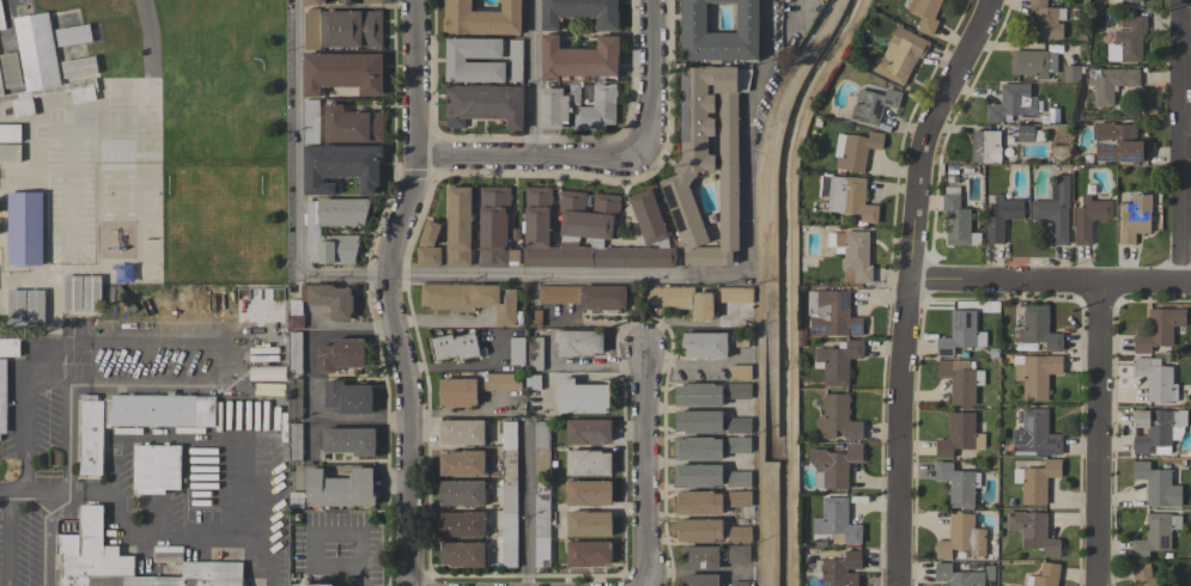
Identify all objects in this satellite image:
building: (1123, 0)
building: (372, 1)
building: (314, 2)
building: (579, 12)
building: (139, 13)
building: (925, 14)
building: (108, 18)
building: (482, 18)
building: (693, 18)
building: (1045, 20)
road: (768, 23)
building: (311, 29)
building: (352, 29)
building: (73, 35)
building: (1128, 42)
building: (898, 55)
building: (579, 57)
building: (455, 60)
building: (515, 60)
building: (1033, 62)
building: (41, 67)
building: (79, 67)
building: (11, 69)
building: (342, 72)
building: (1072, 73)
road: (655, 78)
road: (530, 79)
building: (1112, 84)
building: (1013, 103)
building: (484, 105)
building: (557, 105)
building: (874, 105)
building: (596, 108)
building: (311, 121)
building: (352, 124)
road: (774, 128)
building: (10, 133)
building: (1029, 134)
road: (418, 141)
road: (1178, 141)
building: (1118, 144)
building: (985, 146)
building: (856, 149)
building: (10, 152)
road: (531, 158)
building: (707, 161)
building: (340, 167)
road: (292, 178)
building: (847, 196)
building: (1055, 209)
building: (1002, 216)
building: (1089, 218)
building: (1135, 218)
building: (958, 220)
building: (460, 226)
building: (25, 228)
building: (494, 228)
building: (312, 230)
building: (593, 232)
building: (429, 245)
building: (852, 254)
road: (61, 257)
road: (577, 279)
road: (1049, 281)
road: (906, 282)
building: (73, 293)
building: (91, 293)
building: (735, 294)
building: (584, 295)
building: (472, 299)
building: (681, 299)
building: (321, 303)
building: (16, 306)
building: (35, 306)
building: (832, 313)
building: (533, 318)
road: (438, 321)
building: (1038, 329)
building: (1159, 329)
building: (959, 332)
building: (741, 340)
building: (578, 342)
building: (705, 344)
building: (455, 346)
building: (10, 347)
building: (517, 350)
building: (294, 352)
building: (340, 354)
building: (535, 354)
road: (207, 356)
building: (838, 361)
road: (458, 366)
building: (267, 372)
building: (741, 372)
building: (1035, 374)
building: (1156, 379)
building: (960, 380)
building: (502, 381)
building: (533, 381)
building: (740, 391)
building: (457, 392)
building: (2, 395)
building: (698, 395)
building: (347, 397)
building: (582, 397)
building: (294, 399)
road: (63, 414)
building: (135, 419)
building: (838, 419)
building: (699, 421)
building: (740, 425)
building: (1156, 429)
road: (403, 431)
building: (462, 432)
building: (588, 432)
road: (24, 434)
building: (959, 434)
road: (1095, 434)
building: (1035, 435)
building: (294, 441)
building: (350, 441)
building: (739, 445)
building: (699, 447)
building: (588, 462)
building: (462, 463)
road: (648, 465)
building: (834, 466)
building: (156, 468)
building: (699, 475)
building: (740, 478)
building: (1037, 481)
building: (958, 484)
building: (1157, 484)
road: (12, 489)
road: (44, 489)
building: (335, 489)
building: (462, 493)
building: (509, 493)
building: (541, 493)
building: (589, 493)
building: (740, 499)
building: (699, 502)
road: (525, 507)
building: (837, 520)
building: (589, 523)
building: (462, 524)
road: (175, 530)
building: (699, 530)
building: (1033, 532)
building: (740, 533)
building: (1155, 535)
road: (312, 536)
road: (7, 537)
road: (47, 537)
building: (961, 537)
building: (463, 554)
building: (588, 554)
building: (739, 554)
building: (168, 557)
building: (700, 557)
building: (126, 561)
building: (839, 569)
building: (989, 574)
building: (956, 575)
building: (1045, 575)
building: (1144, 575)
road: (359, 576)
building: (700, 580)
building: (740, 584)
building: (315, 585)

